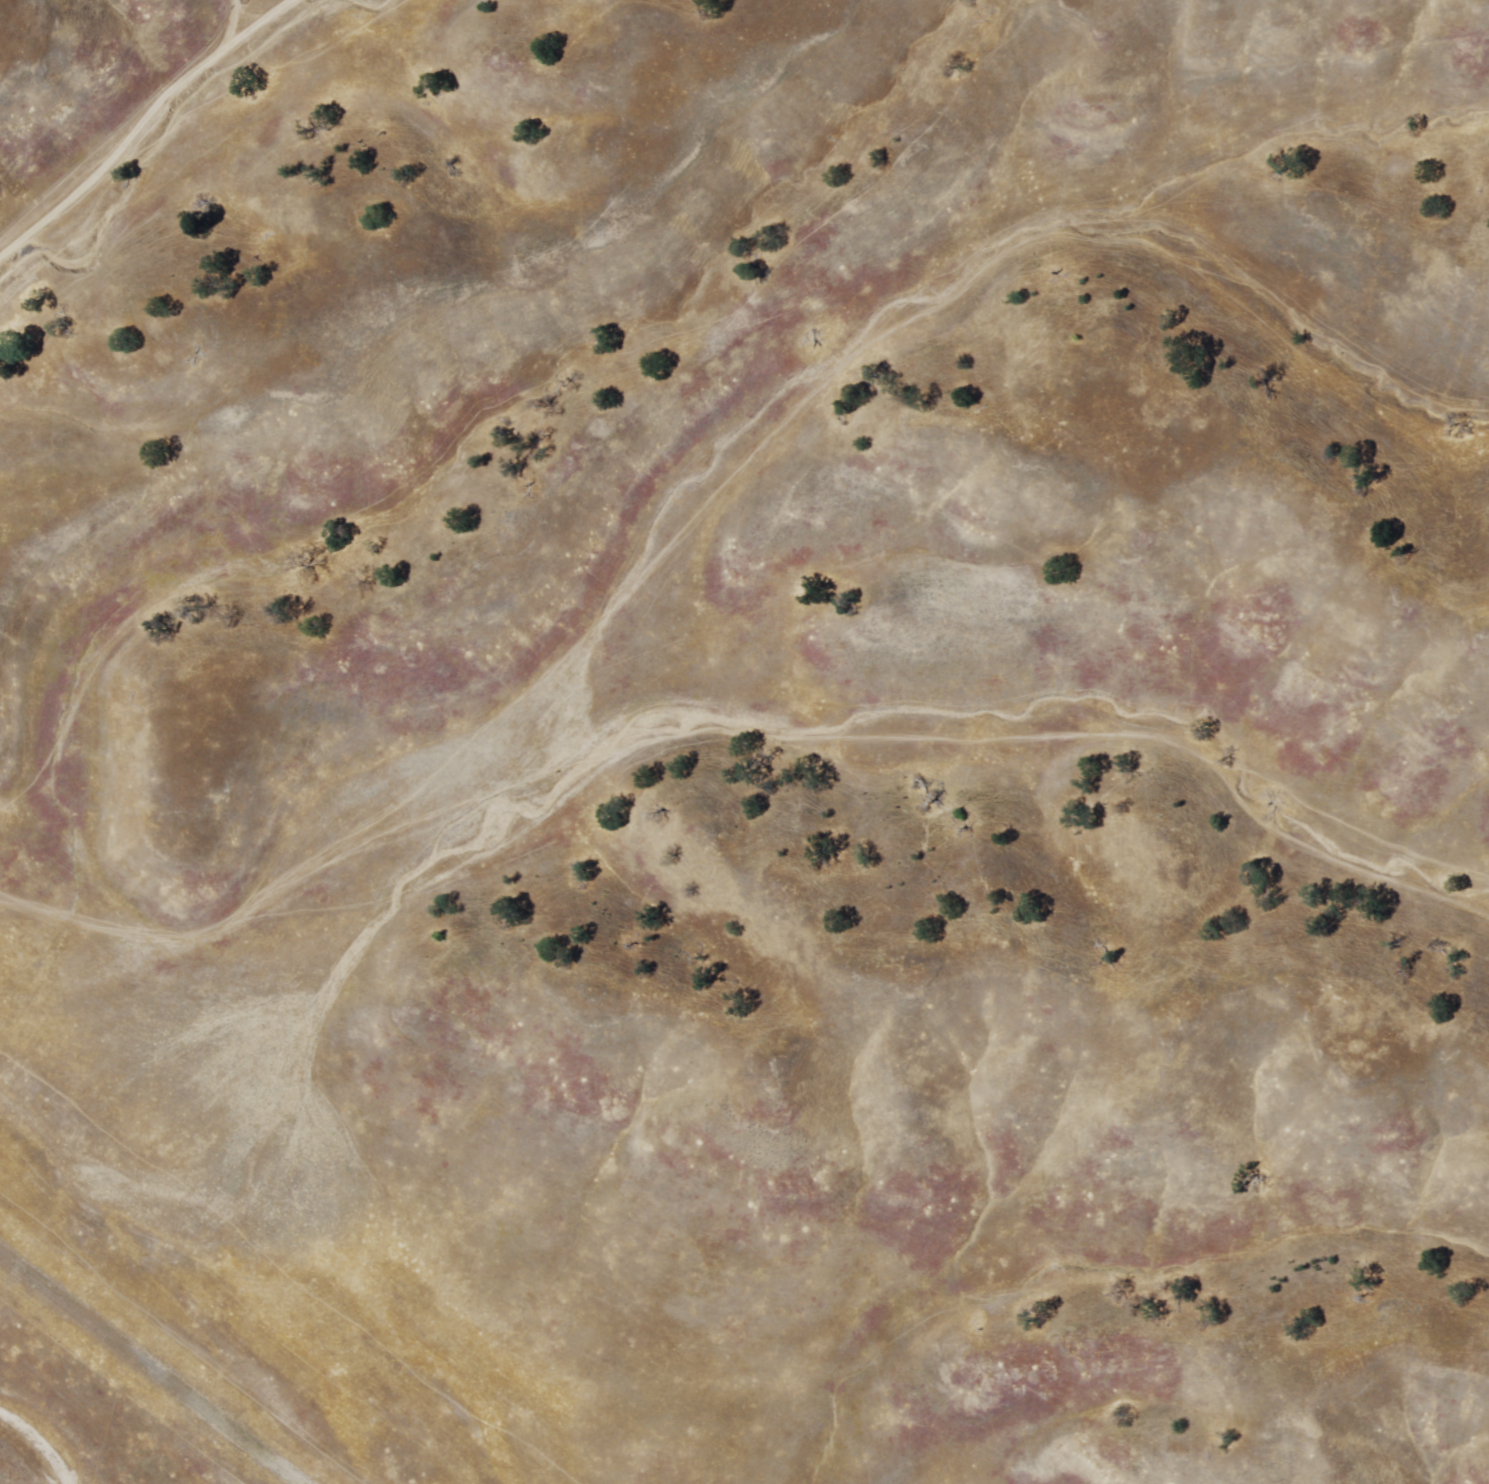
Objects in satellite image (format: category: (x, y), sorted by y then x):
road: (263, 11)
road: (226, 24)
road: (134, 134)
airport: (146, 1371)
airport runway: (140, 1375)

